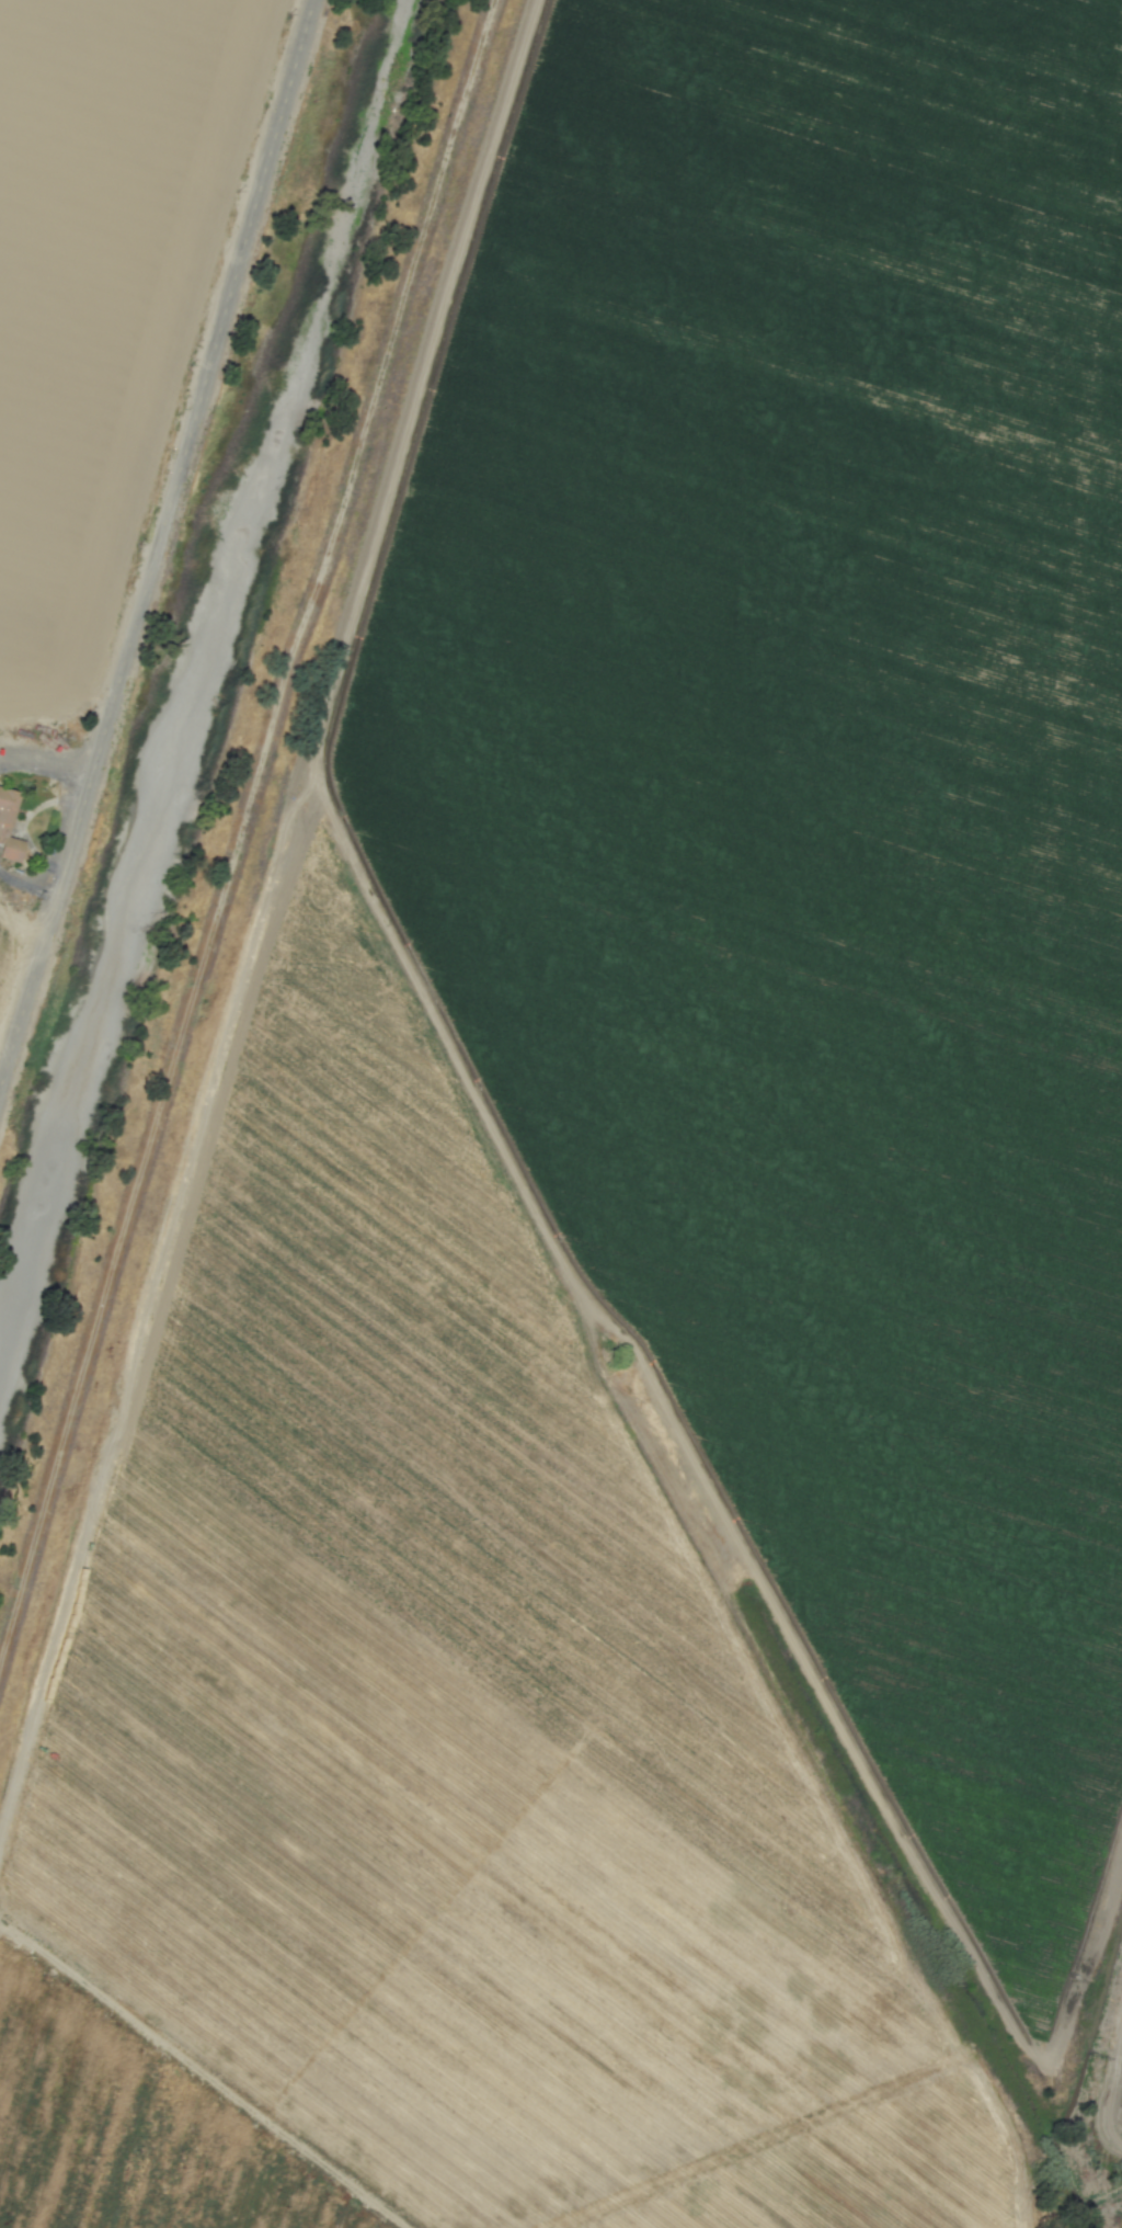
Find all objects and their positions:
crop: (94, 332)
road: (158, 552)
road: (46, 766)
building: (7, 805)
road: (243, 832)
road: (28, 887)
crop: (650, 1229)

